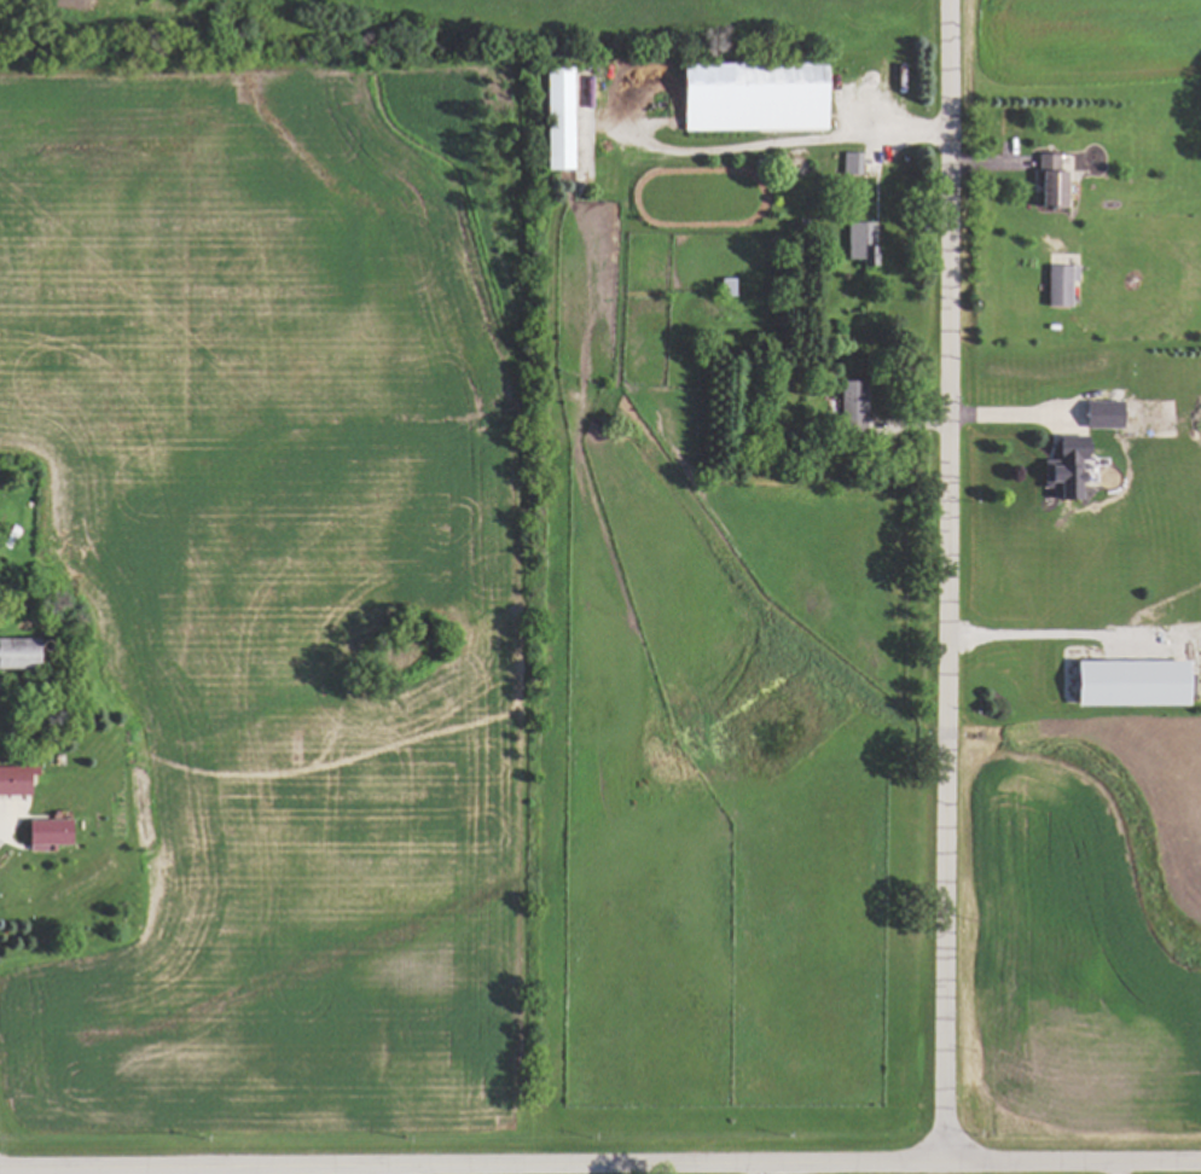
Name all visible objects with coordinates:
airport runway: (818, 5)
building: (749, 97)
building: (555, 118)
road: (779, 144)
building: (849, 164)
building: (1045, 180)
building: (858, 243)
building: (1056, 285)
building: (851, 407)
road: (1010, 412)
building: (1097, 415)
building: (1062, 467)
road: (945, 582)
road: (1052, 630)
building: (13, 655)
building: (1125, 684)
building: (12, 781)
building: (42, 833)
road: (600, 1166)
road: (384, 1170)

